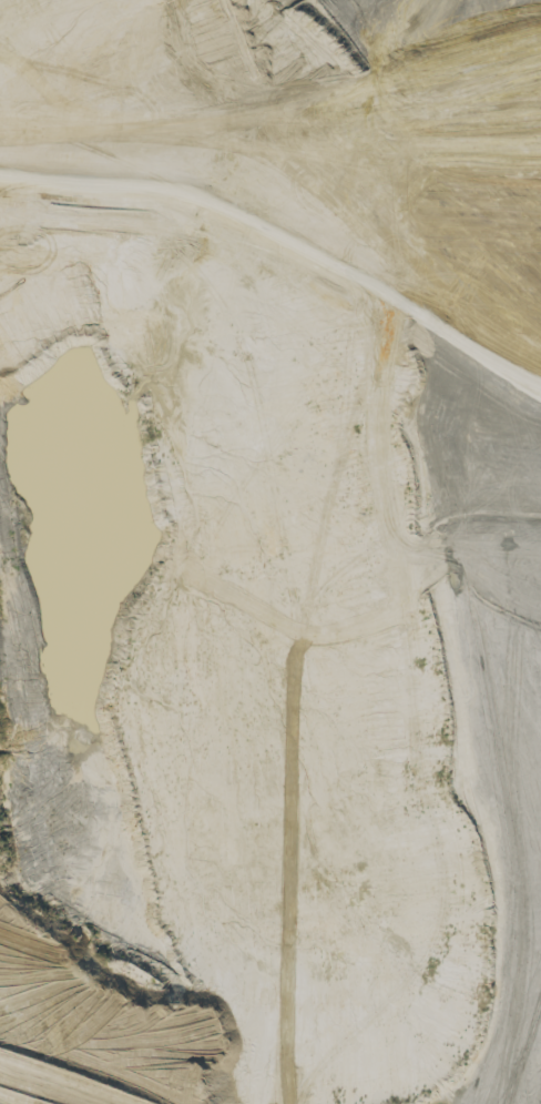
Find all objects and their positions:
quarry: (53, 10)

